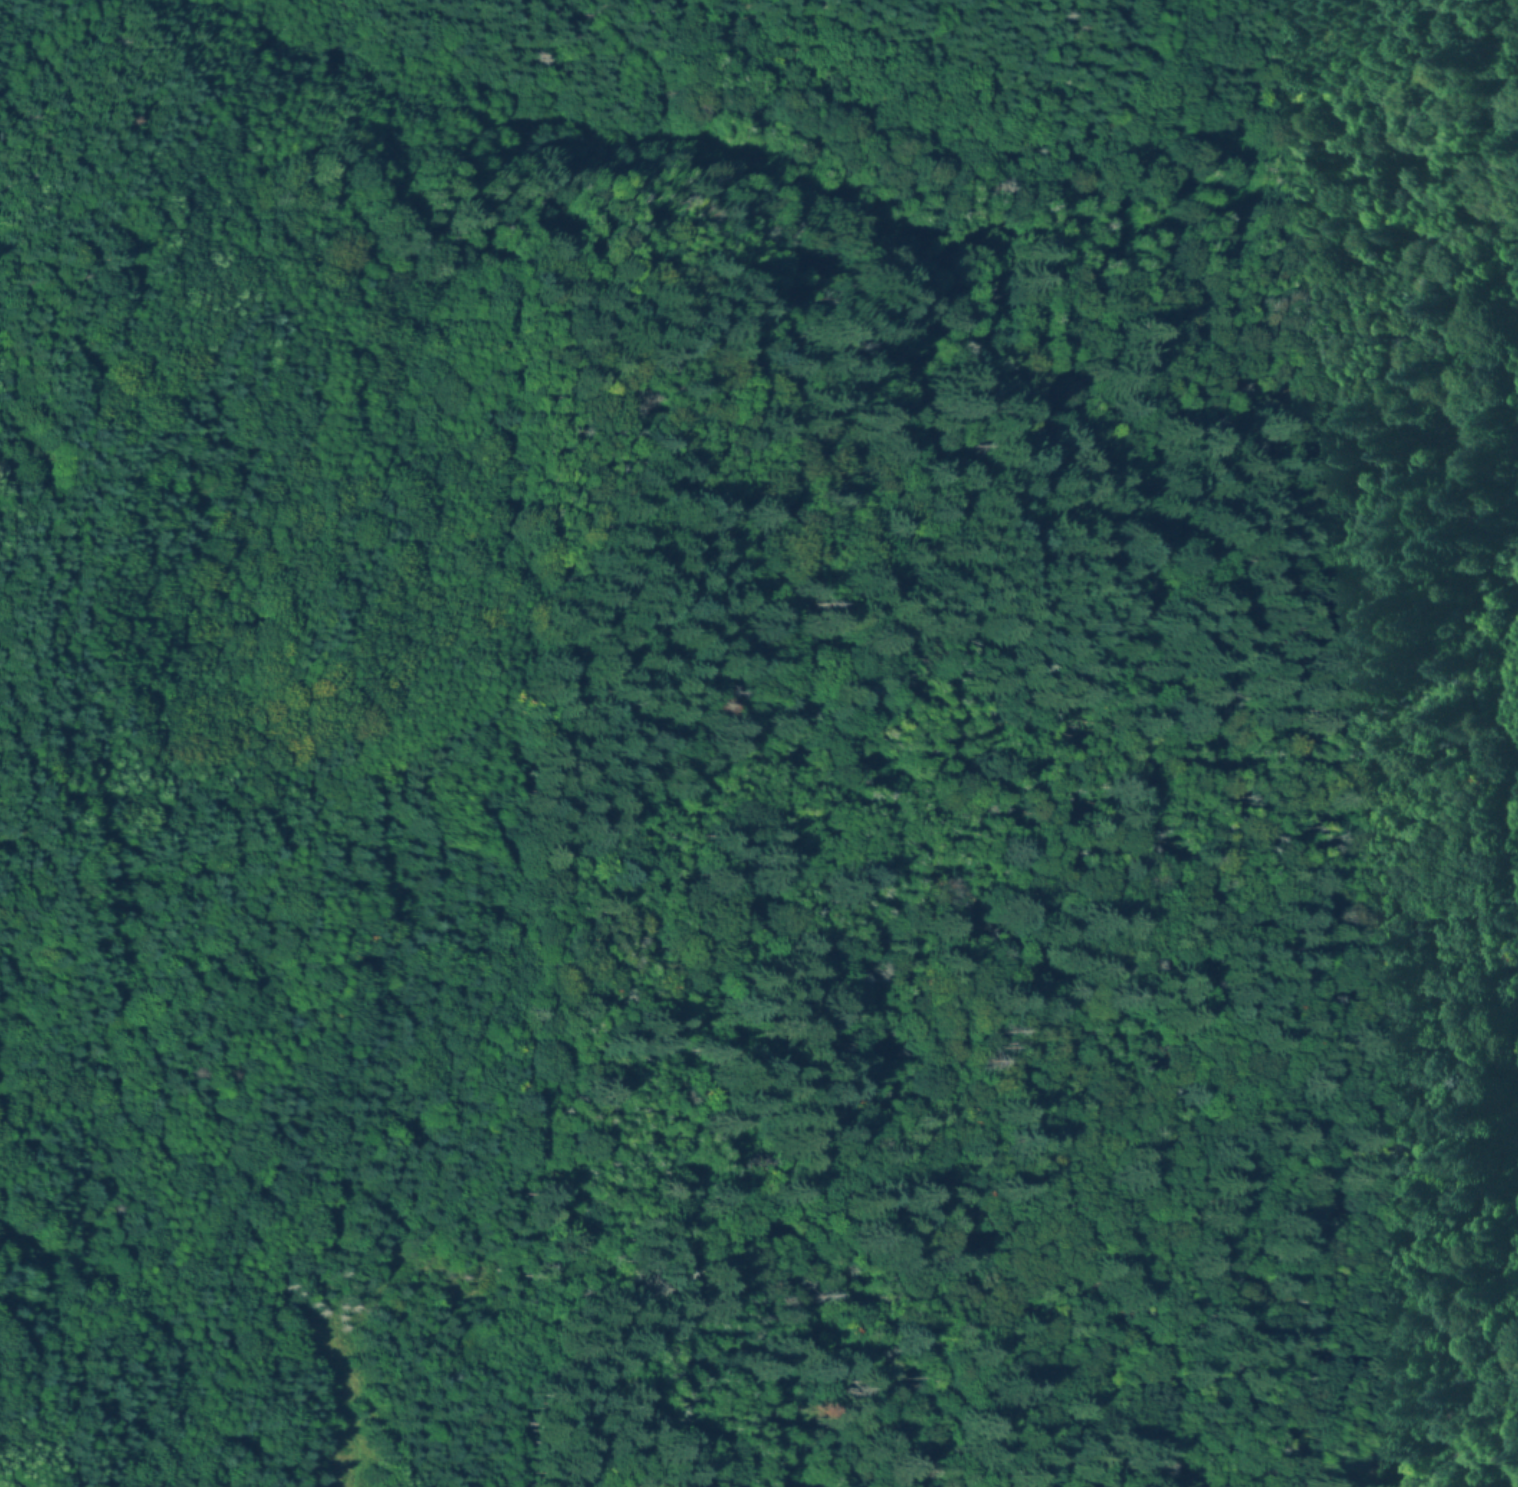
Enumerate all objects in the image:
road: (177, 104)
road: (942, 341)
road: (1459, 1401)

